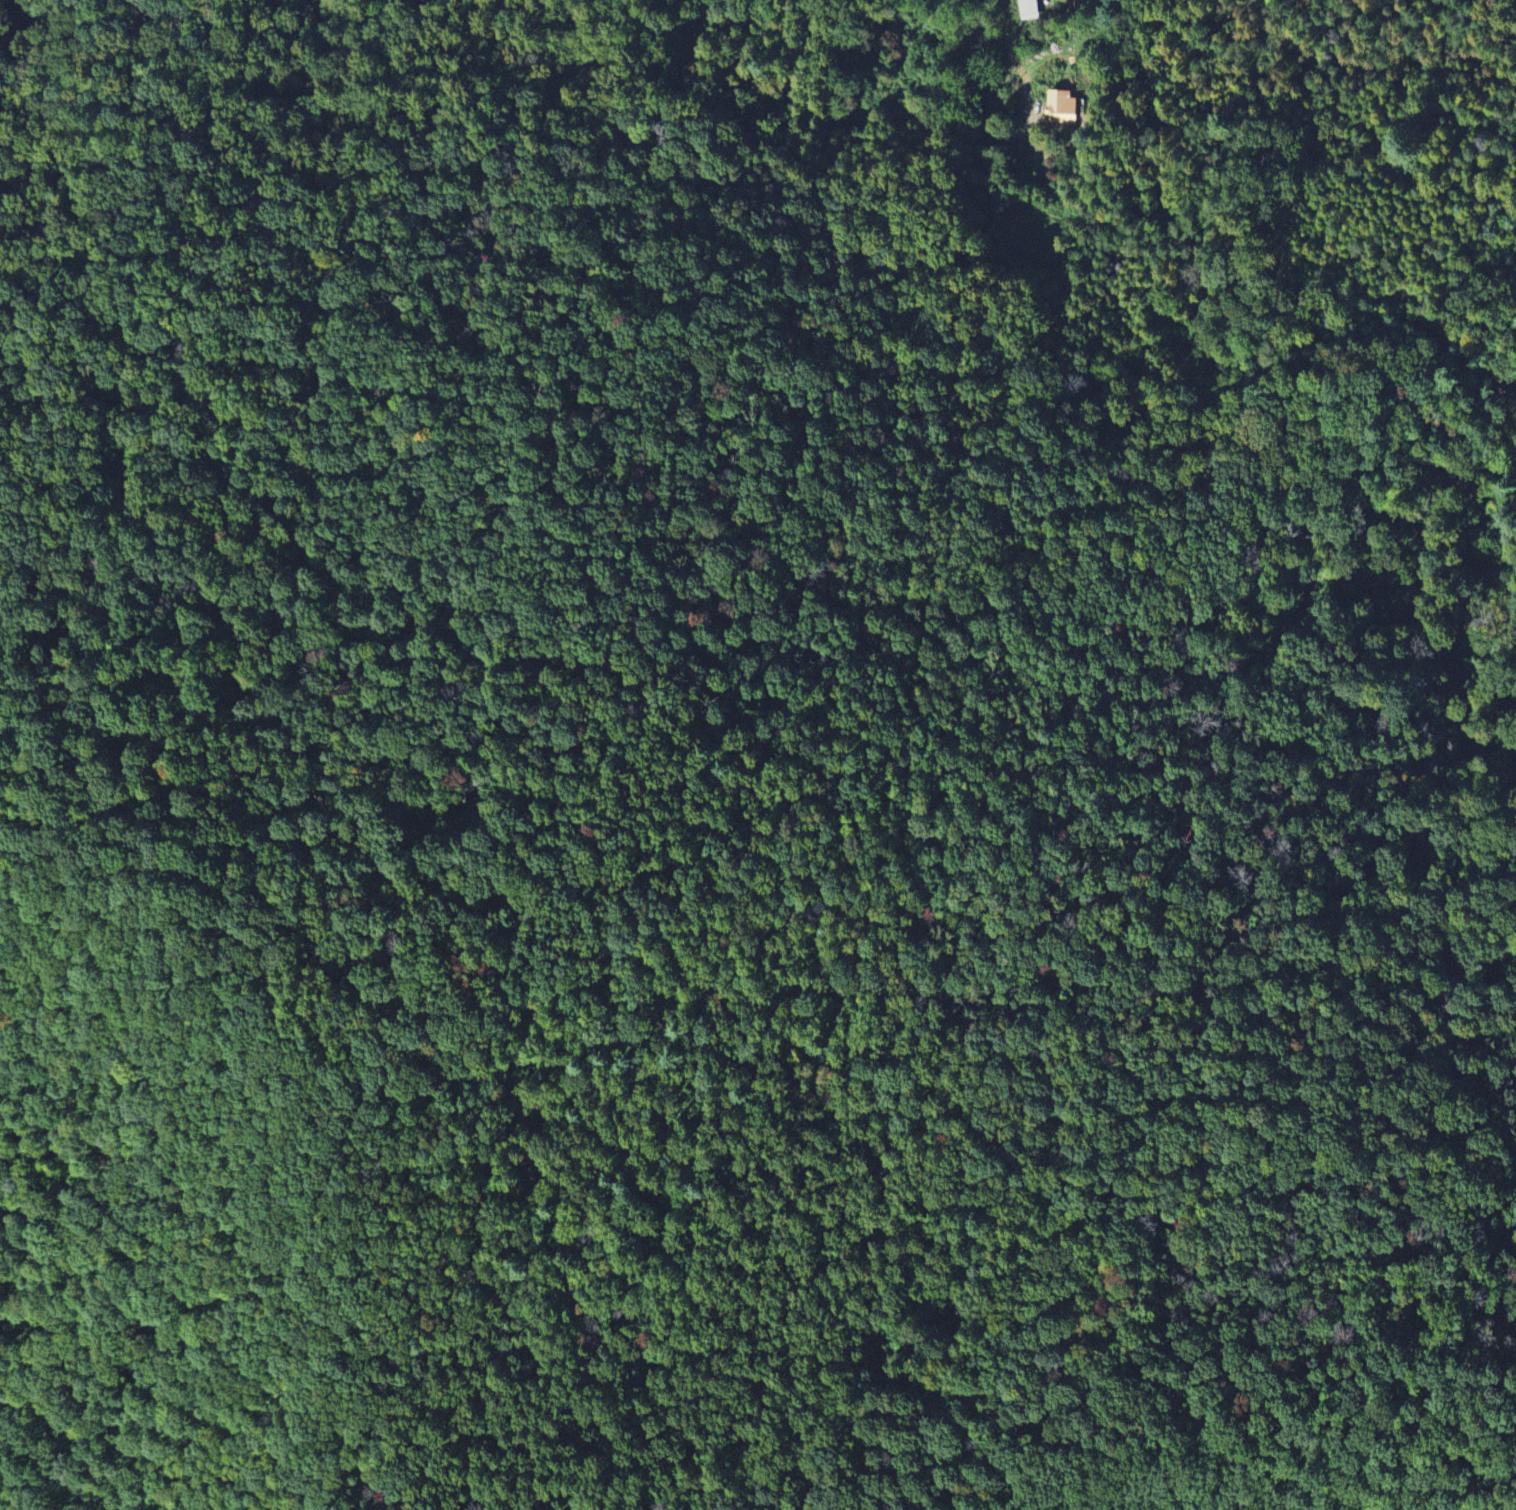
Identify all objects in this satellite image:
building: (1028, 9)
building: (1062, 107)

